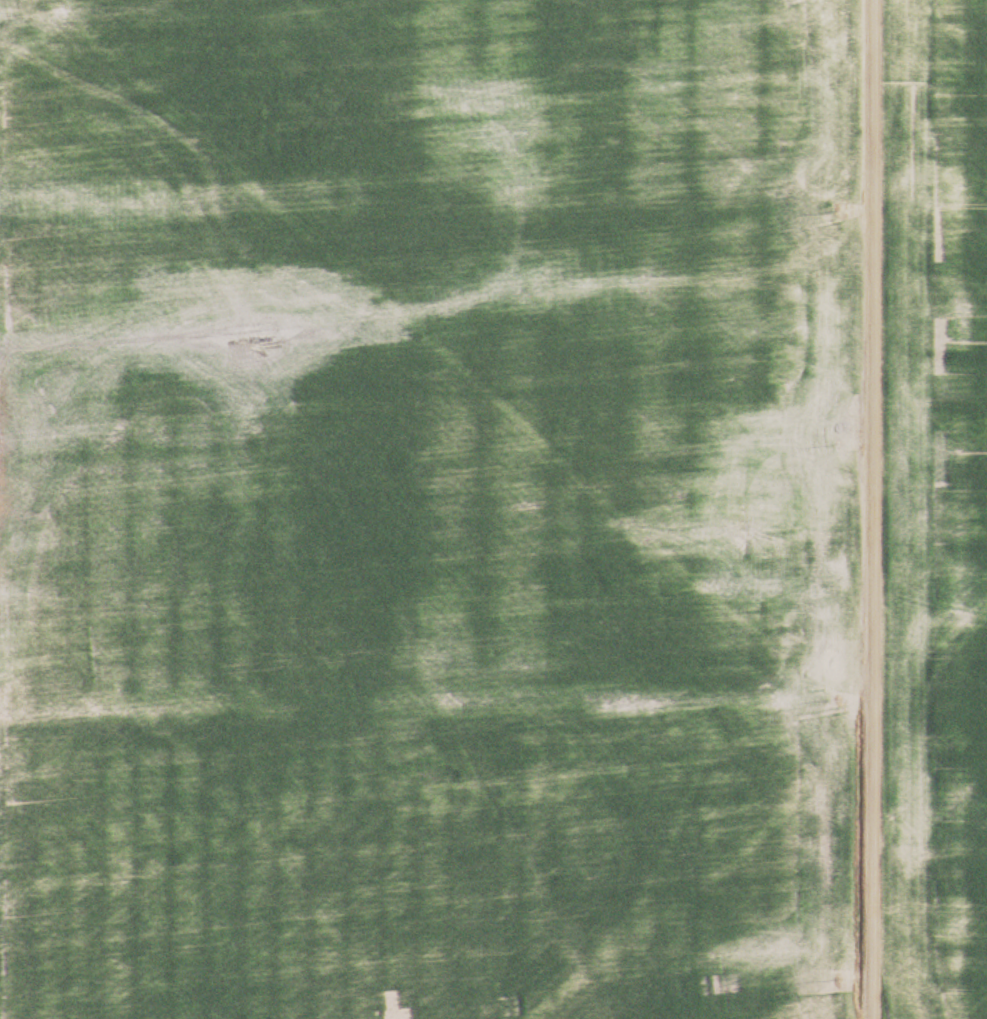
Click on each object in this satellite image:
road: (874, 509)

